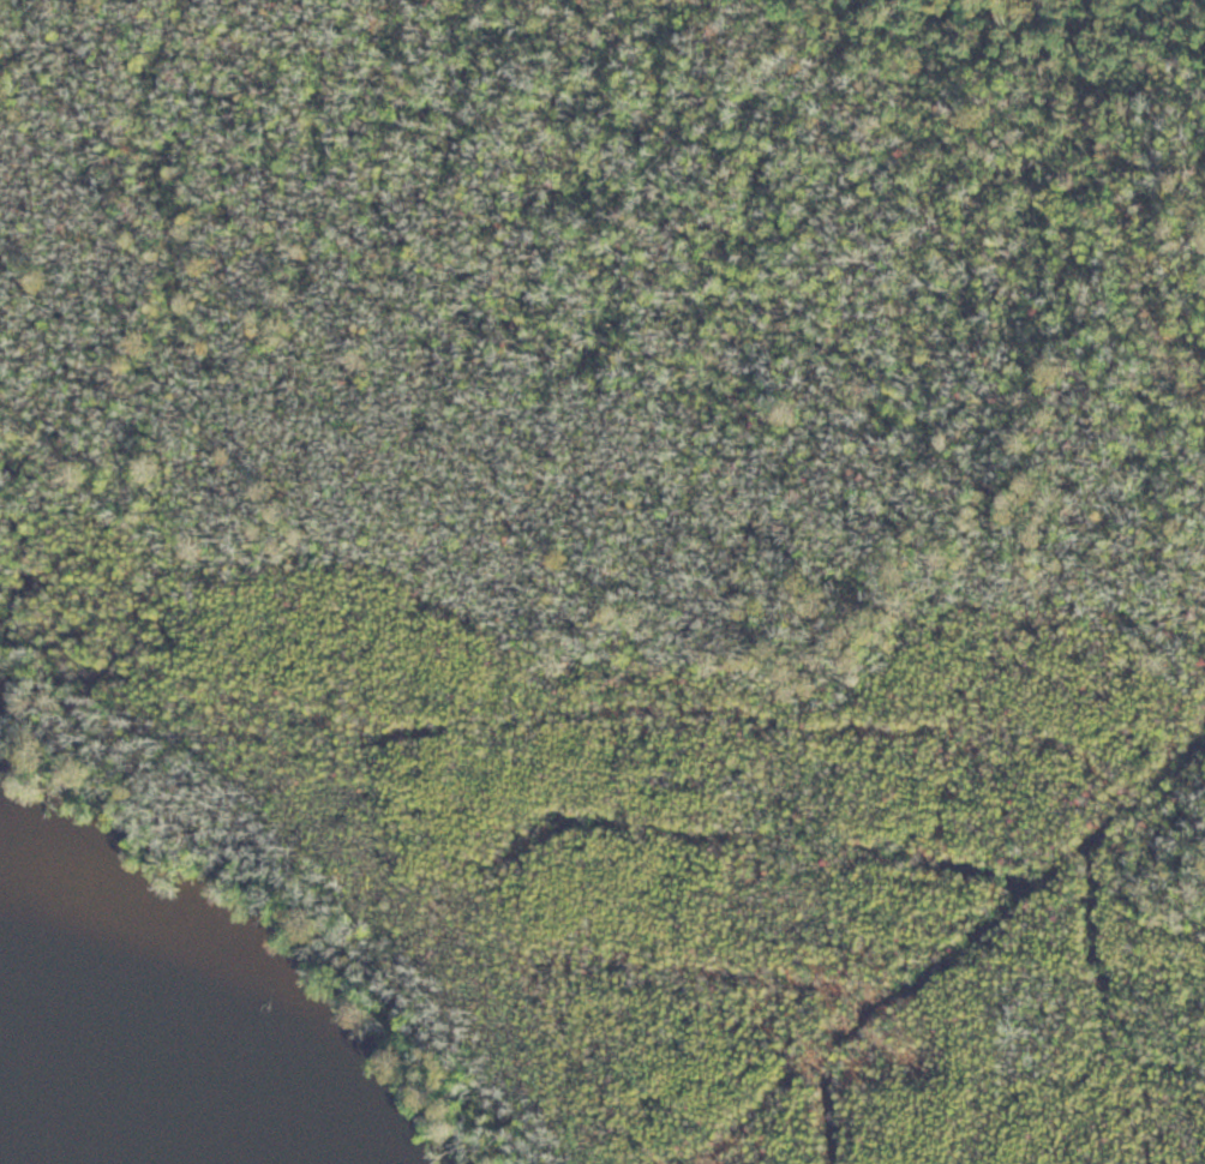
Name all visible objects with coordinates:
river: (98, 1081)

